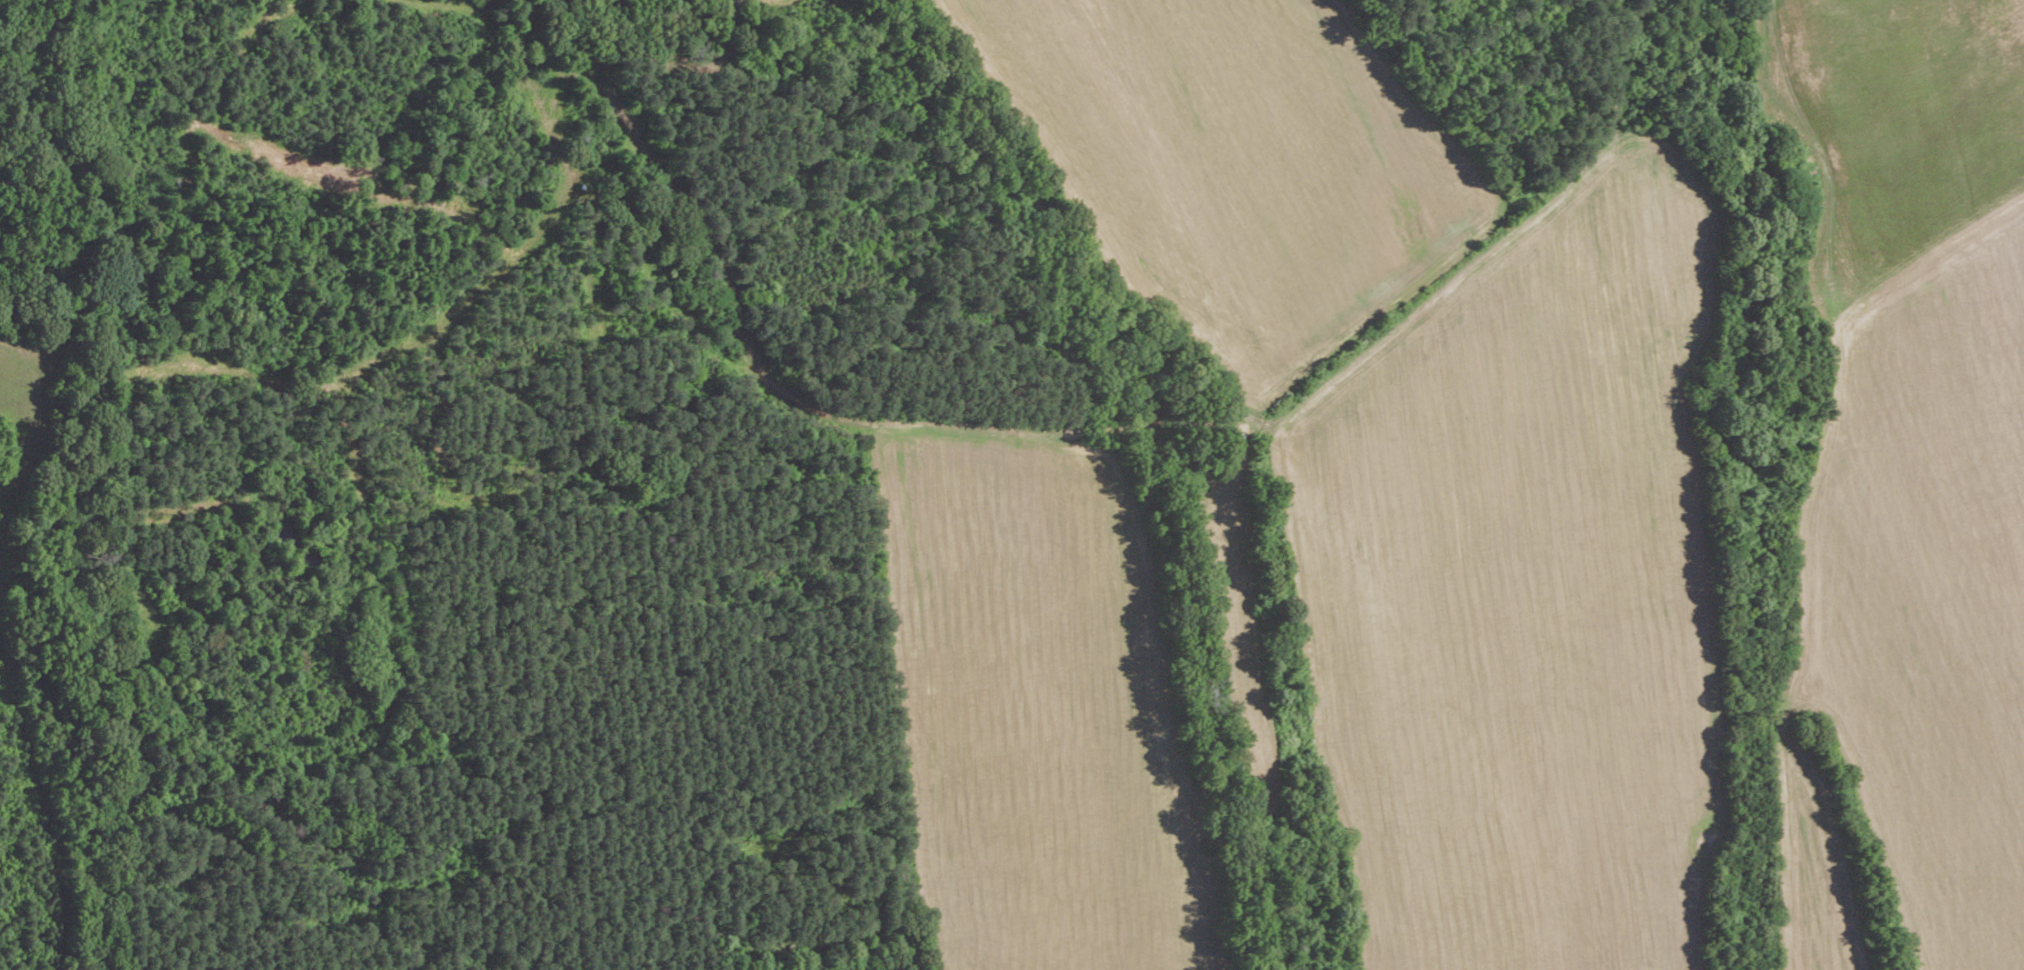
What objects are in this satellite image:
road: (1757, 260)

